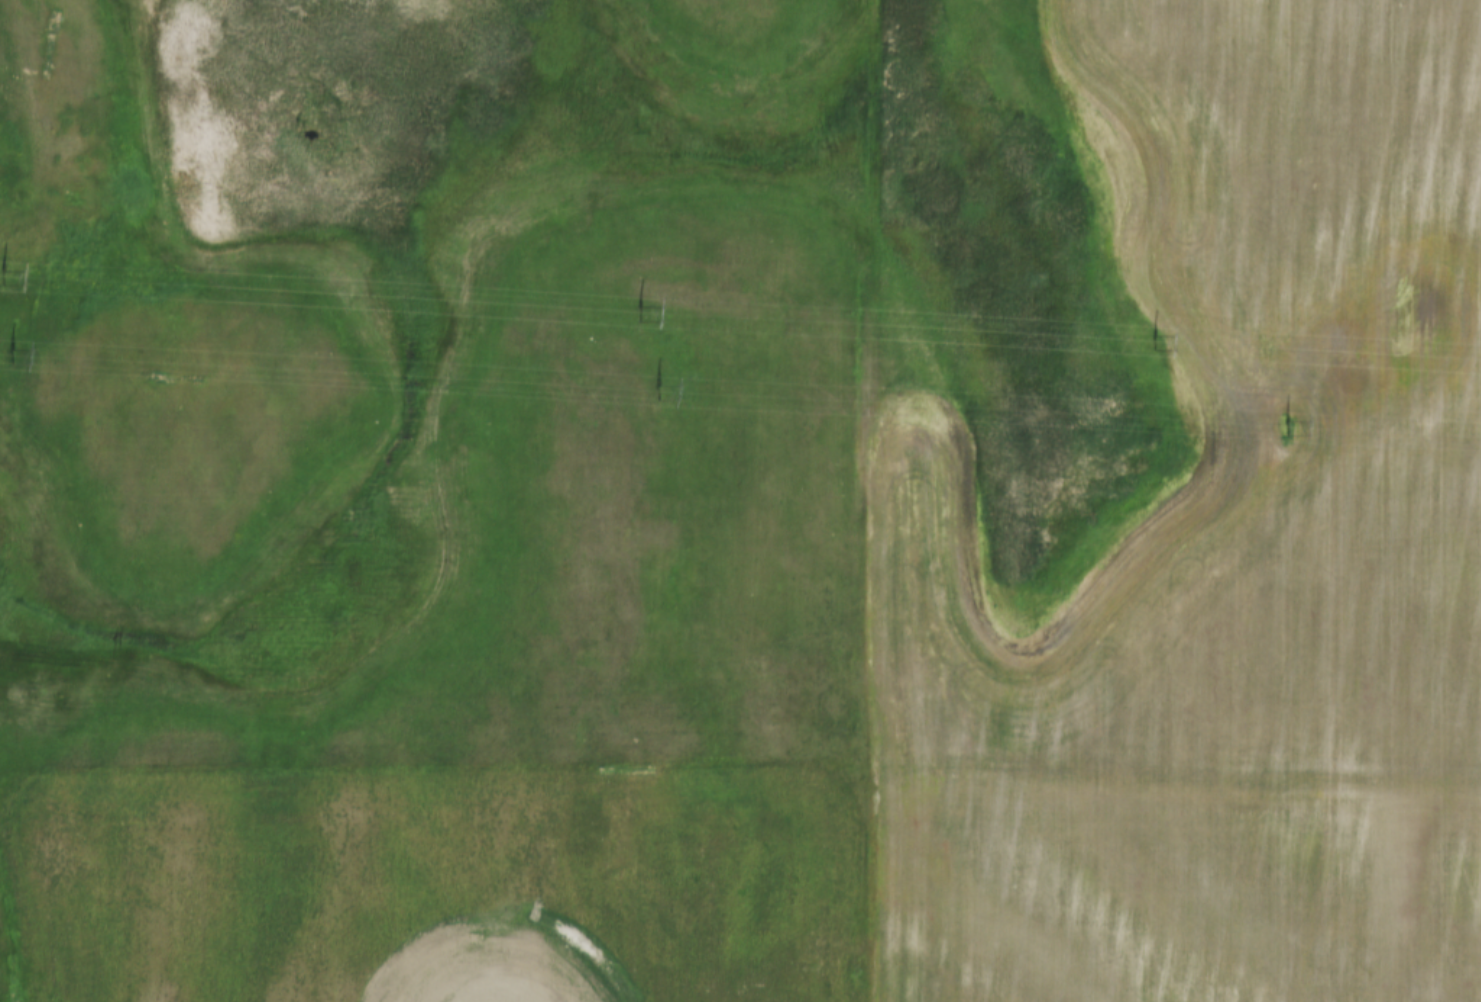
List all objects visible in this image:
power tower: (10, 355)
power tower: (656, 392)
power tower: (1285, 426)
road: (877, 501)

